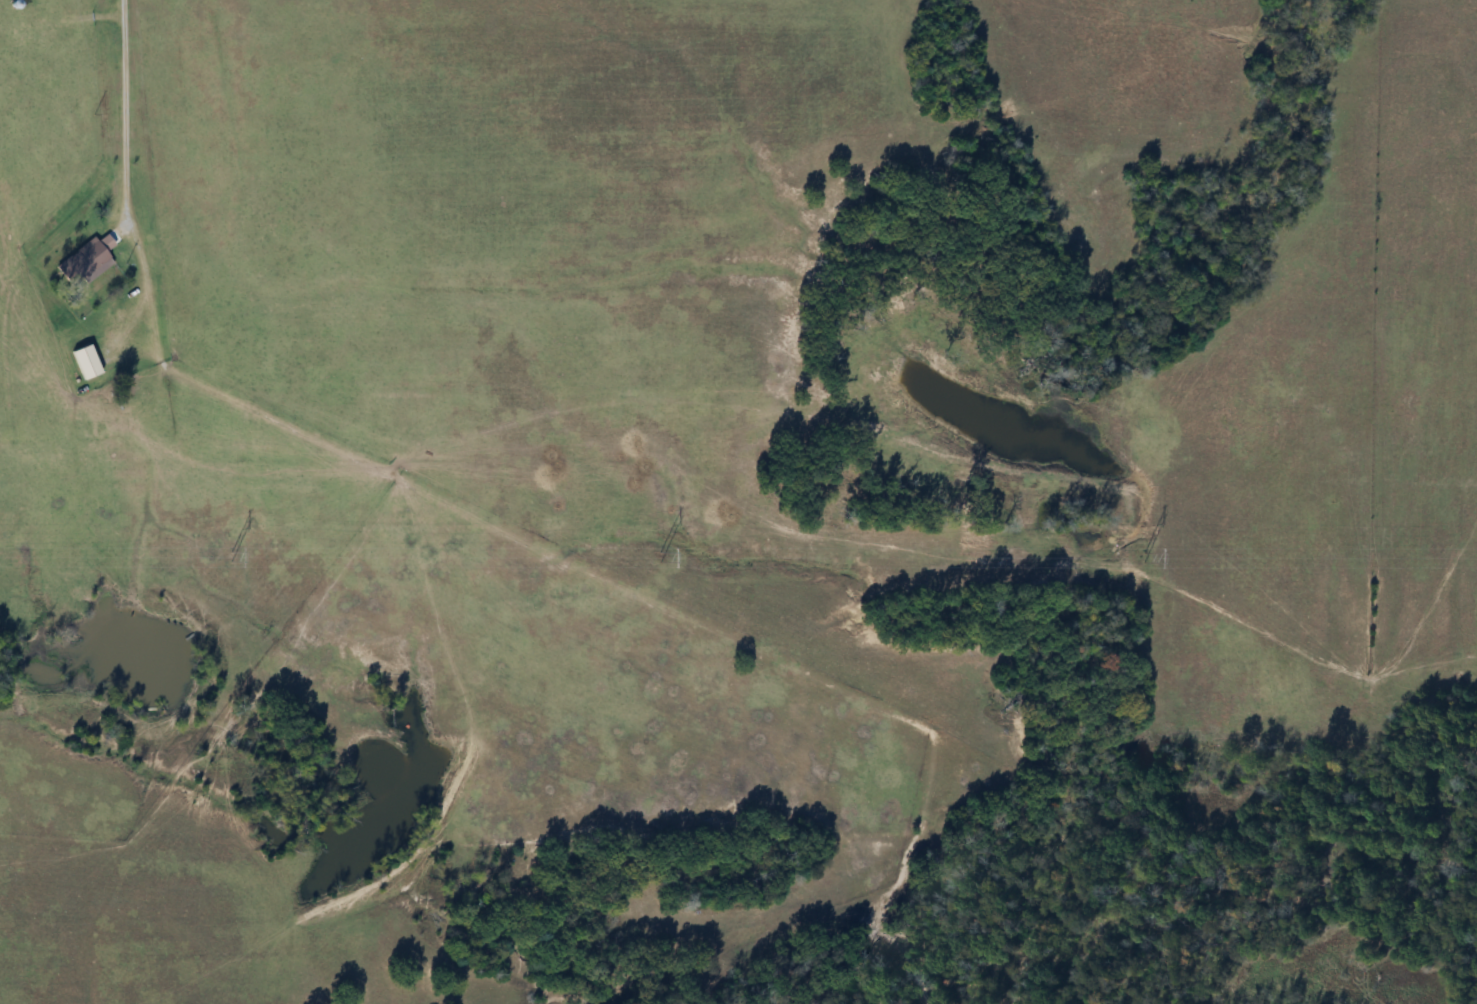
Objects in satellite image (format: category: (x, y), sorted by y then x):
building: (85, 262)
building: (84, 363)

